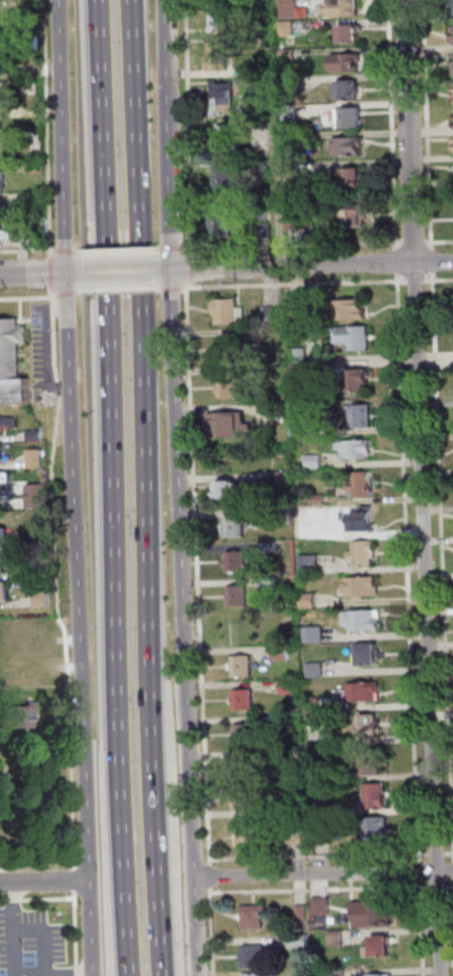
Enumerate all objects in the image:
building: (452, 8)
building: (2, 9)
building: (291, 9)
building: (343, 9)
building: (224, 15)
building: (34, 16)
building: (289, 29)
building: (351, 35)
building: (452, 35)
building: (2, 39)
building: (35, 44)
building: (291, 56)
building: (220, 57)
building: (350, 63)
building: (2, 67)
building: (262, 71)
building: (291, 84)
building: (351, 91)
building: (226, 98)
building: (261, 103)
building: (292, 113)
building: (352, 119)
road: (391, 123)
road: (425, 123)
road: (191, 124)
building: (1, 126)
road: (52, 128)
building: (232, 139)
building: (294, 141)
building: (351, 147)
building: (1, 152)
building: (263, 165)
building: (40, 168)
building: (295, 170)
building: (355, 179)
building: (5, 182)
building: (228, 182)
building: (37, 198)
building: (3, 209)
road: (70, 210)
building: (264, 216)
building: (357, 217)
building: (300, 223)
building: (226, 224)
building: (268, 231)
building: (6, 236)
building: (44, 239)
road: (412, 240)
road: (439, 240)
road: (298, 244)
road: (123, 251)
road: (30, 252)
road: (72, 252)
road: (196, 252)
road: (395, 260)
road: (307, 265)
road: (124, 271)
road: (56, 273)
road: (42, 274)
road: (413, 280)
road: (438, 280)
road: (295, 284)
road: (175, 289)
road: (124, 290)
road: (33, 299)
building: (302, 303)
building: (354, 312)
building: (232, 313)
building: (276, 315)
building: (354, 340)
building: (14, 347)
building: (233, 350)
building: (303, 357)
building: (303, 374)
building: (362, 382)
building: (233, 389)
building: (18, 394)
building: (362, 417)
building: (234, 428)
building: (4, 429)
building: (317, 432)
building: (41, 436)
building: (360, 452)
building: (5, 458)
building: (317, 463)
building: (286, 480)
building: (5, 484)
building: (366, 486)
road: (183, 487)
road: (108, 488)
road: (145, 488)
road: (421, 488)
building: (234, 492)
building: (41, 498)
building: (321, 501)
building: (287, 516)
building: (364, 522)
building: (238, 529)
building: (308, 531)
building: (7, 539)
building: (45, 547)
building: (272, 549)
building: (368, 556)
road: (441, 561)
building: (240, 563)
road: (406, 563)
building: (312, 564)
building: (7, 567)
road: (60, 567)
road: (198, 576)
building: (273, 585)
building: (365, 588)
building: (7, 595)
building: (241, 598)
building: (44, 601)
building: (312, 602)
building: (365, 623)
building: (316, 635)
building: (283, 654)
building: (373, 656)
building: (245, 668)
building: (317, 671)
building: (290, 688)
building: (367, 693)
road: (86, 698)
building: (245, 702)
building: (315, 706)
building: (16, 719)
building: (284, 723)
building: (374, 727)
building: (247, 736)
building: (372, 764)
building: (240, 768)
building: (318, 776)
road: (49, 796)
building: (378, 798)
building: (248, 801)
park: (41, 806)
building: (321, 809)
building: (380, 834)
building: (298, 836)
building: (252, 837)
road: (448, 852)
road: (318, 855)
road: (37, 861)
road: (322, 874)
road: (45, 881)
road: (442, 888)
road: (449, 888)
road: (36, 898)
building: (323, 908)
building: (303, 913)
building: (375, 916)
building: (256, 919)
road: (14, 929)
road: (74, 934)
road: (46, 937)
parking lot: (30, 940)
building: (301, 943)
building: (384, 950)
building: (255, 959)
building: (252, 973)
building: (338, 974)
building: (380, 974)
road: (71, 975)

